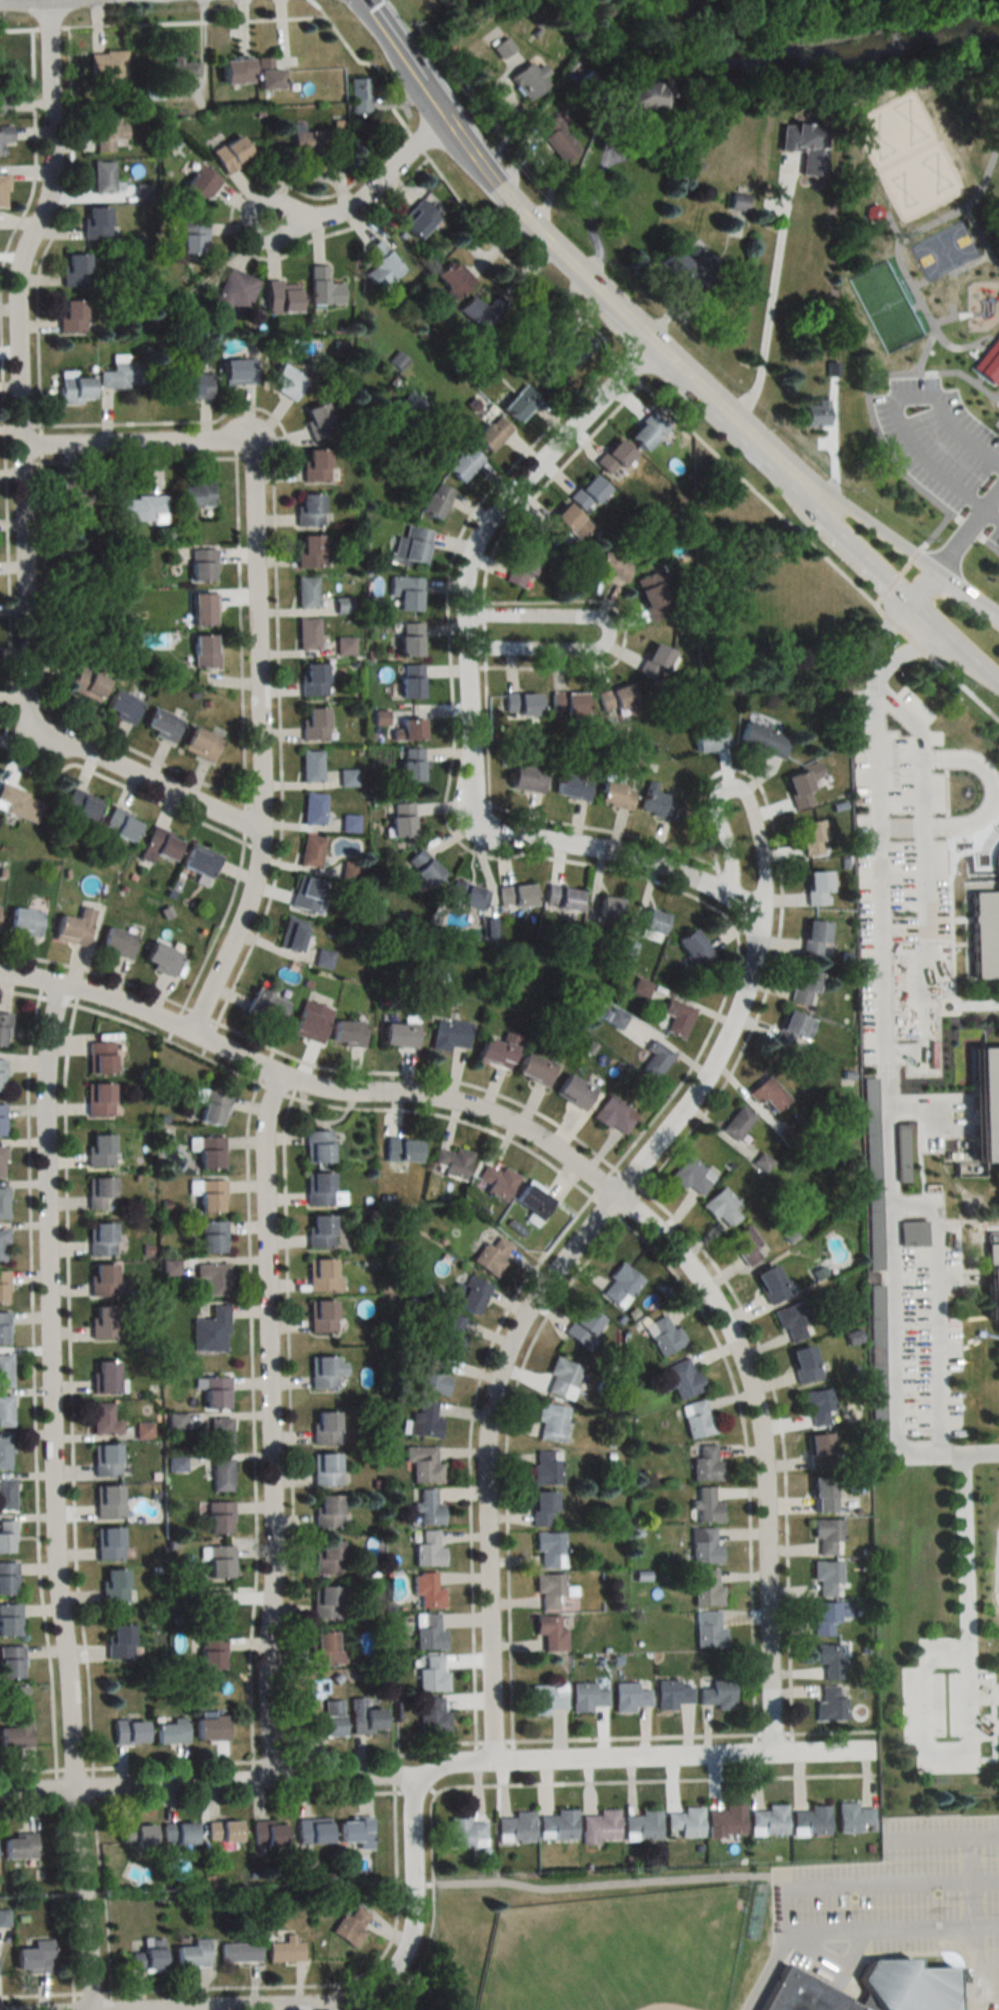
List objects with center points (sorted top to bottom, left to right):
park: (834, 14)
road: (271, 17)
road: (50, 27)
road: (16, 29)
building: (495, 43)
river: (823, 60)
building: (106, 65)
building: (181, 69)
building: (235, 71)
building: (266, 74)
building: (527, 79)
building: (153, 92)
building: (644, 95)
building: (359, 96)
building: (2, 105)
road: (452, 123)
building: (957, 127)
building: (109, 134)
building: (5, 135)
building: (558, 139)
road: (418, 142)
building: (804, 145)
building: (310, 148)
building: (230, 153)
park: (903, 157)
building: (103, 177)
building: (199, 184)
building: (3, 191)
road: (369, 193)
road: (592, 205)
road: (965, 207)
building: (873, 215)
building: (418, 218)
building: (96, 222)
road: (59, 227)
road: (891, 229)
building: (192, 237)
park: (942, 252)
building: (381, 264)
road: (968, 266)
building: (688, 267)
building: (74, 269)
building: (451, 278)
road: (915, 284)
building: (323, 287)
road: (599, 288)
building: (234, 290)
building: (279, 298)
road: (770, 301)
park: (923, 306)
road: (912, 308)
park: (883, 310)
building: (480, 311)
road: (919, 311)
building: (71, 316)
road: (945, 321)
road: (981, 343)
building: (570, 346)
road: (955, 349)
building: (989, 362)
building: (238, 371)
building: (122, 375)
road: (961, 378)
building: (286, 382)
building: (193, 386)
building: (74, 389)
road: (711, 398)
building: (521, 402)
parking lot: (996, 402)
road: (894, 413)
building: (815, 414)
building: (318, 421)
building: (647, 432)
building: (491, 433)
road: (43, 444)
parking lot: (944, 448)
building: (614, 458)
road: (141, 460)
building: (462, 462)
building: (315, 465)
road: (791, 481)
road: (548, 484)
road: (21, 485)
road: (918, 490)
road: (758, 492)
building: (195, 493)
building: (588, 493)
building: (76, 497)
building: (436, 500)
building: (141, 508)
building: (308, 510)
road: (8, 518)
building: (567, 526)
road: (965, 534)
road: (885, 541)
building: (410, 546)
building: (308, 551)
road: (912, 558)
road: (863, 561)
building: (202, 565)
building: (613, 567)
building: (521, 568)
road: (933, 589)
building: (306, 592)
building: (406, 592)
building: (654, 594)
road: (277, 602)
building: (343, 605)
building: (203, 609)
road: (899, 625)
road: (242, 629)
road: (607, 630)
road: (886, 633)
building: (307, 634)
road: (483, 634)
road: (255, 637)
building: (410, 639)
building: (345, 645)
building: (205, 651)
road: (908, 651)
road: (958, 653)
building: (654, 662)
building: (312, 679)
building: (411, 681)
road: (960, 683)
building: (85, 684)
road: (464, 692)
road: (47, 694)
building: (617, 700)
building: (567, 703)
building: (521, 705)
building: (120, 707)
building: (313, 723)
building: (161, 725)
building: (410, 729)
building: (709, 739)
building: (764, 739)
building: (200, 744)
building: (409, 764)
building: (310, 765)
building: (347, 777)
building: (527, 779)
building: (572, 786)
road: (744, 789)
building: (799, 790)
road: (988, 790)
building: (615, 795)
building: (18, 803)
building: (656, 803)
building: (78, 805)
building: (314, 809)
road: (538, 818)
building: (400, 819)
road: (245, 820)
building: (119, 823)
building: (349, 823)
building: (811, 838)
building: (157, 844)
building: (310, 851)
building: (198, 860)
building: (997, 860)
building: (422, 867)
parking lot: (903, 875)
road: (929, 885)
building: (818, 888)
building: (306, 894)
building: (464, 894)
building: (515, 895)
building: (561, 897)
building: (607, 907)
road: (954, 910)
building: (22, 922)
building: (652, 922)
road: (218, 924)
building: (72, 928)
building: (290, 934)
building: (986, 934)
building: (814, 937)
building: (115, 942)
building: (693, 947)
building: (628, 949)
building: (159, 958)
road: (93, 973)
building: (804, 987)
road: (20, 993)
road: (57, 1001)
building: (263, 1008)
road: (200, 1014)
building: (677, 1017)
building: (309, 1021)
road: (175, 1024)
building: (3, 1029)
building: (794, 1030)
building: (346, 1033)
building: (399, 1034)
building: (449, 1035)
road: (209, 1039)
road: (167, 1042)
building: (493, 1052)
building: (99, 1057)
building: (655, 1060)
building: (534, 1069)
building: (1, 1075)
road: (423, 1075)
road: (276, 1089)
building: (574, 1091)
building: (767, 1093)
building: (98, 1099)
building: (988, 1103)
building: (210, 1106)
road: (922, 1106)
road: (881, 1113)
building: (613, 1114)
road: (454, 1118)
building: (1, 1119)
building: (736, 1122)
building: (317, 1146)
building: (99, 1150)
building: (402, 1150)
building: (210, 1152)
building: (1, 1161)
building: (450, 1163)
building: (691, 1175)
road: (593, 1179)
road: (632, 1179)
building: (496, 1180)
road: (604, 1182)
building: (317, 1188)
building: (98, 1193)
building: (533, 1200)
building: (3, 1203)
road: (636, 1206)
building: (722, 1207)
road: (608, 1208)
building: (319, 1231)
building: (212, 1237)
building: (100, 1239)
building: (3, 1245)
building: (745, 1246)
building: (492, 1256)
building: (992, 1270)
building: (320, 1275)
building: (213, 1278)
building: (102, 1280)
building: (771, 1284)
building: (3, 1286)
building: (621, 1286)
building: (468, 1293)
road: (932, 1305)
road: (527, 1310)
building: (321, 1316)
building: (793, 1321)
building: (103, 1322)
building: (585, 1327)
building: (4, 1328)
building: (452, 1335)
building: (664, 1335)
building: (804, 1364)
building: (5, 1369)
building: (324, 1372)
building: (435, 1375)
building: (104, 1376)
building: (563, 1378)
building: (682, 1378)
road: (35, 1383)
road: (71, 1386)
building: (216, 1392)
building: (818, 1405)
building: (6, 1411)
building: (103, 1419)
building: (697, 1419)
road: (254, 1420)
building: (424, 1421)
building: (551, 1422)
building: (324, 1427)
road: (270, 1430)
building: (219, 1434)
building: (819, 1451)
road: (469, 1452)
building: (5, 1453)
road: (751, 1456)
building: (105, 1460)
building: (706, 1464)
building: (423, 1465)
building: (545, 1467)
building: (324, 1470)
building: (221, 1475)
building: (6, 1495)
building: (822, 1495)
road: (53, 1498)
building: (108, 1502)
building: (705, 1507)
building: (428, 1508)
building: (542, 1509)
building: (327, 1511)
building: (219, 1518)
building: (827, 1535)
building: (7, 1537)
building: (107, 1543)
building: (705, 1546)
building: (428, 1550)
building: (550, 1550)
building: (327, 1556)
building: (219, 1563)
building: (827, 1577)
building: (8, 1578)
building: (112, 1586)
building: (708, 1589)
building: (550, 1590)
building: (427, 1591)
building: (324, 1602)
building: (213, 1607)
building: (828, 1616)
building: (9, 1619)
building: (709, 1630)
building: (429, 1632)
building: (550, 1633)
building: (119, 1641)
building: (323, 1649)
building: (211, 1654)
building: (830, 1660)
building: (11, 1662)
building: (431, 1674)
road: (970, 1680)
building: (672, 1694)
building: (718, 1695)
building: (587, 1697)
building: (629, 1697)
building: (547, 1699)
building: (831, 1704)
building: (432, 1714)
building: (364, 1718)
building: (327, 1720)
building: (210, 1728)
building: (14, 1732)
building: (128, 1732)
building: (169, 1732)
road: (775, 1733)
road: (636, 1736)
road: (495, 1740)
road: (385, 1754)
road: (273, 1760)
road: (174, 1763)
road: (76, 1768)
road: (29, 1771)
road: (395, 1773)
road: (435, 1773)
road: (609, 1781)
road: (95, 1785)
road: (58, 1788)
road: (247, 1798)
road: (79, 1804)
road: (30, 1810)
building: (853, 1818)
building: (810, 1820)
building: (726, 1821)
building: (769, 1821)
building: (685, 1823)
building: (557, 1825)
building: (642, 1826)
building: (600, 1827)
building: (515, 1828)
building: (222, 1831)
building: (312, 1832)
building: (355, 1832)
building: (467, 1833)
building: (267, 1834)
building: (136, 1835)
building: (178, 1835)
building: (18, 1847)
road: (602, 1886)
parking lot: (908, 1888)
road: (108, 1897)
road: (68, 1900)
road: (780, 1906)
road: (974, 1919)
road: (411, 1921)
building: (350, 1926)
building: (284, 1950)
building: (239, 1951)
park: (616, 1952)
road: (884, 1953)
building: (191, 1954)
road: (424, 1954)
building: (147, 1955)
building: (33, 1957)
road: (338, 1983)
building: (869, 1987)
road: (95, 1992)
road: (38, 1994)
road: (76, 2001)
road: (114, 2001)
road: (975, 2009)

